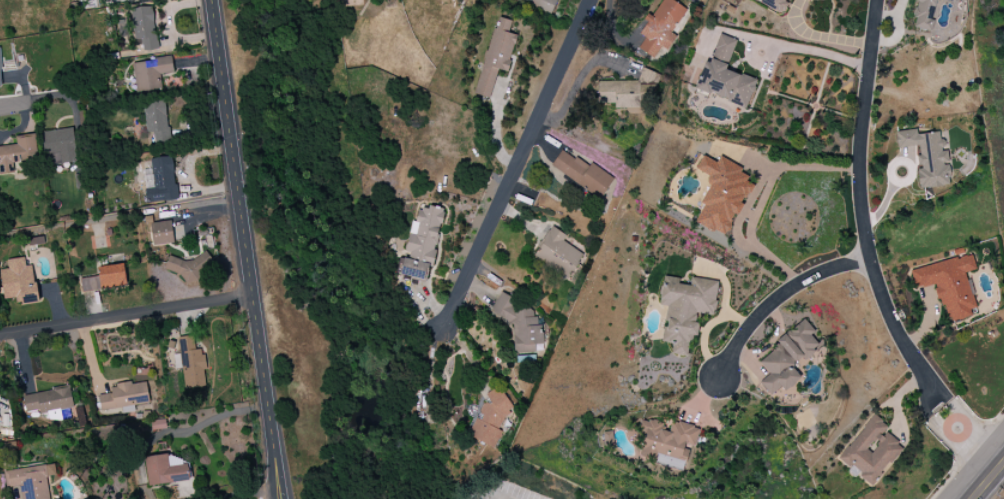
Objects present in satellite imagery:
building: (130, 0)
building: (952, 0)
building: (542, 4)
building: (774, 4)
building: (925, 14)
building: (144, 27)
building: (661, 27)
road: (825, 34)
road: (812, 51)
building: (496, 55)
building: (151, 73)
building: (0, 74)
building: (724, 76)
building: (625, 92)
road: (34, 102)
building: (156, 120)
building: (59, 147)
building: (18, 154)
building: (927, 156)
road: (517, 167)
building: (582, 173)
building: (160, 180)
road: (861, 188)
building: (721, 194)
road: (762, 197)
building: (161, 233)
building: (422, 242)
road: (247, 249)
building: (557, 253)
building: (188, 268)
building: (105, 278)
building: (19, 282)
building: (949, 285)
road: (781, 300)
building: (685, 309)
road: (127, 317)
building: (519, 321)
building: (786, 358)
building: (190, 363)
building: (124, 397)
building: (48, 401)
building: (77, 417)
building: (490, 419)
road: (978, 419)
road: (952, 427)
building: (667, 440)
road: (974, 442)
road: (977, 447)
building: (871, 451)
road: (957, 459)
building: (166, 470)
road: (988, 479)
building: (31, 481)
road: (490, 491)
road: (253, 494)

